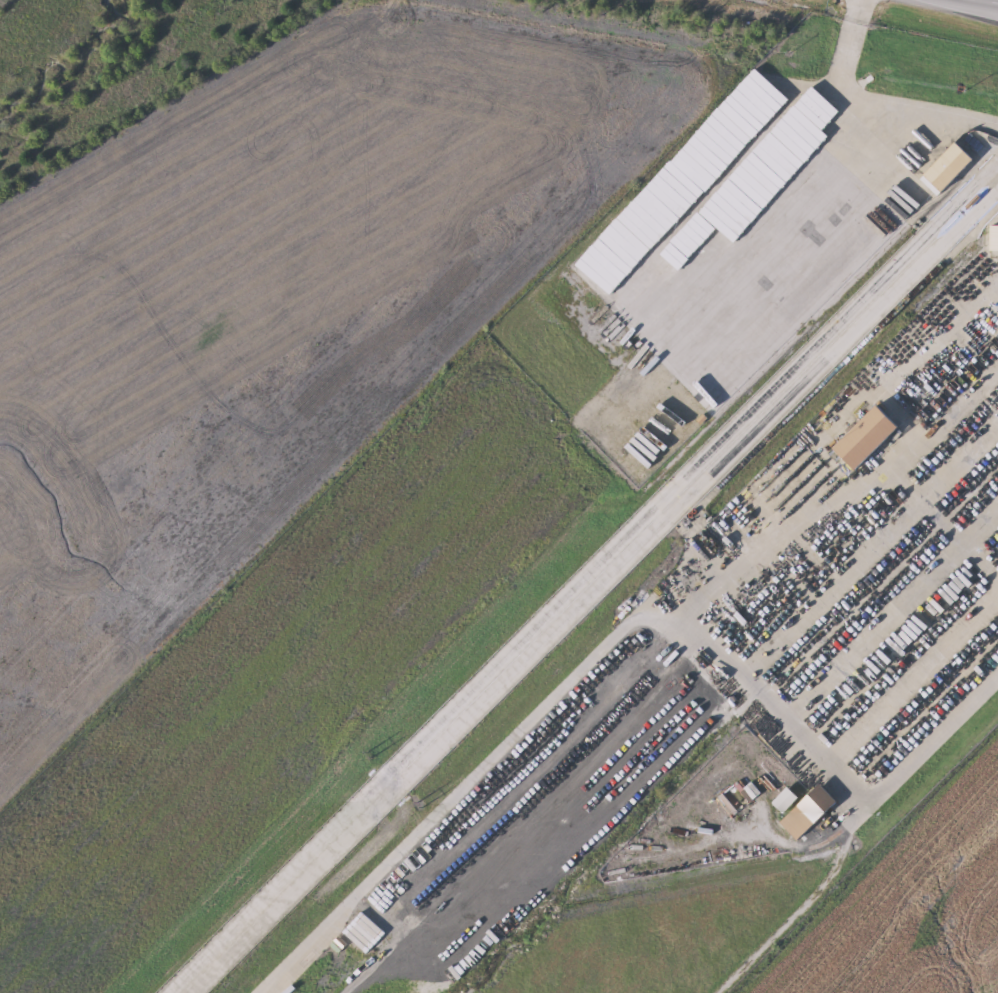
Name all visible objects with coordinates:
road: (991, 1)
road: (871, 98)
building: (951, 166)
building: (813, 286)
building: (869, 437)
road: (931, 740)
building: (786, 799)
building: (810, 812)

